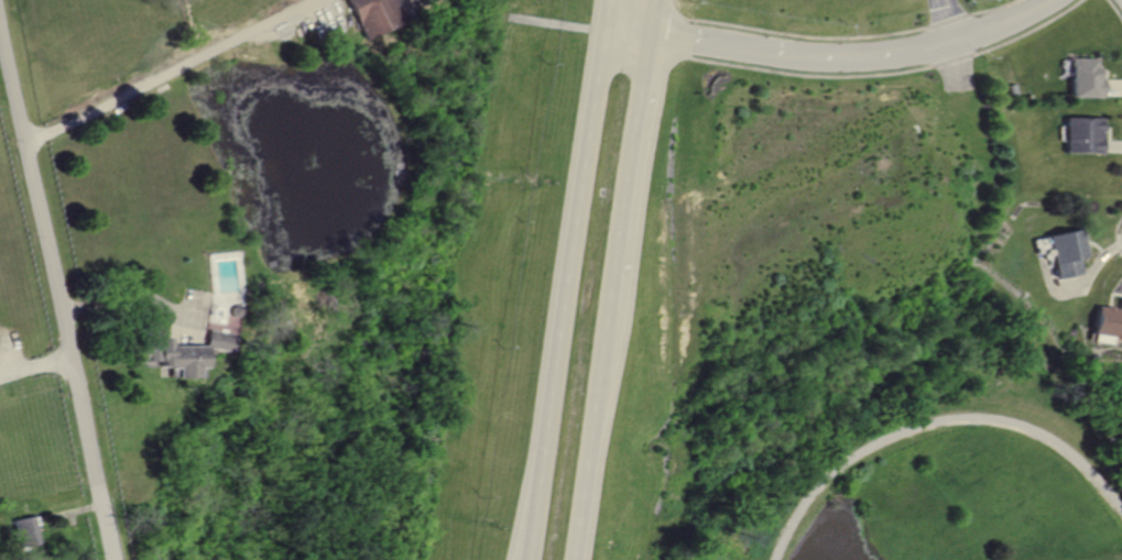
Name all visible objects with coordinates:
road: (996, 7)
road: (1115, 10)
road: (1033, 12)
building: (371, 17)
road: (604, 17)
road: (651, 19)
road: (954, 20)
road: (948, 21)
road: (1031, 30)
road: (982, 34)
road: (625, 35)
road: (808, 35)
road: (686, 36)
road: (717, 47)
road: (889, 54)
road: (805, 56)
road: (957, 59)
road: (959, 64)
road: (174, 72)
road: (811, 73)
building: (1082, 79)
road: (1111, 86)
building: (1082, 135)
road: (1111, 145)
road: (629, 173)
road: (1114, 233)
building: (1067, 251)
road: (1070, 282)
road: (1079, 283)
road: (130, 295)
road: (54, 296)
road: (560, 296)
building: (1109, 319)
building: (183, 353)
road: (34, 365)
road: (936, 420)
road: (587, 433)
building: (25, 531)

